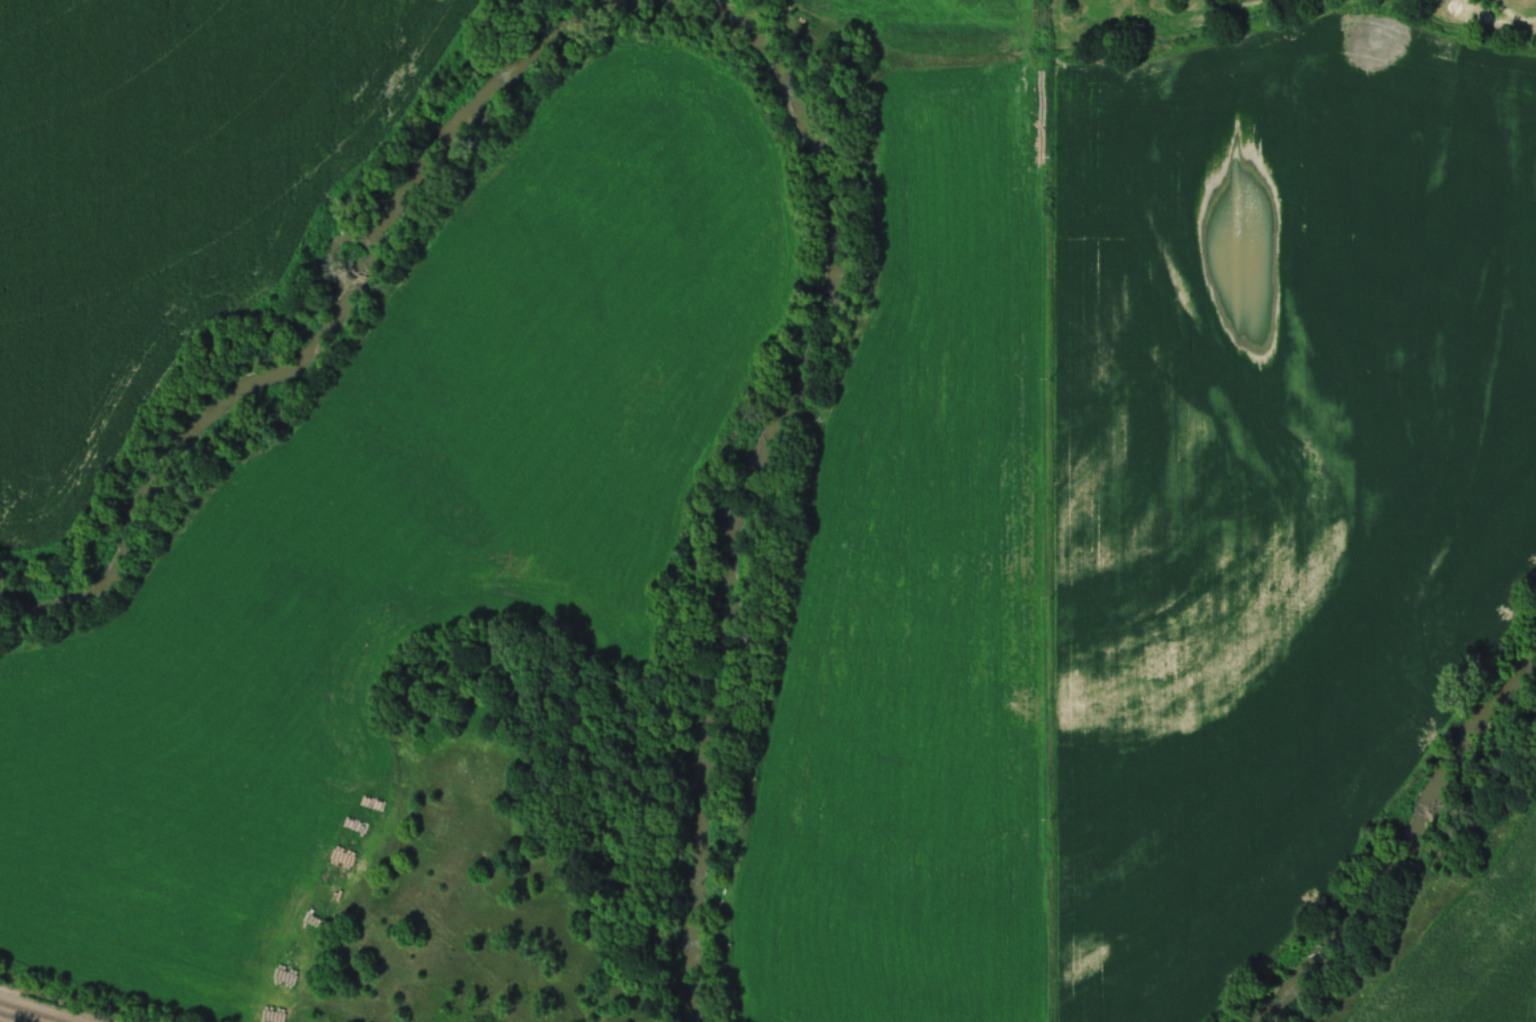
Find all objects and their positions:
railway: (35, 1010)
railway: (19, 1016)
building: (252, 1020)

